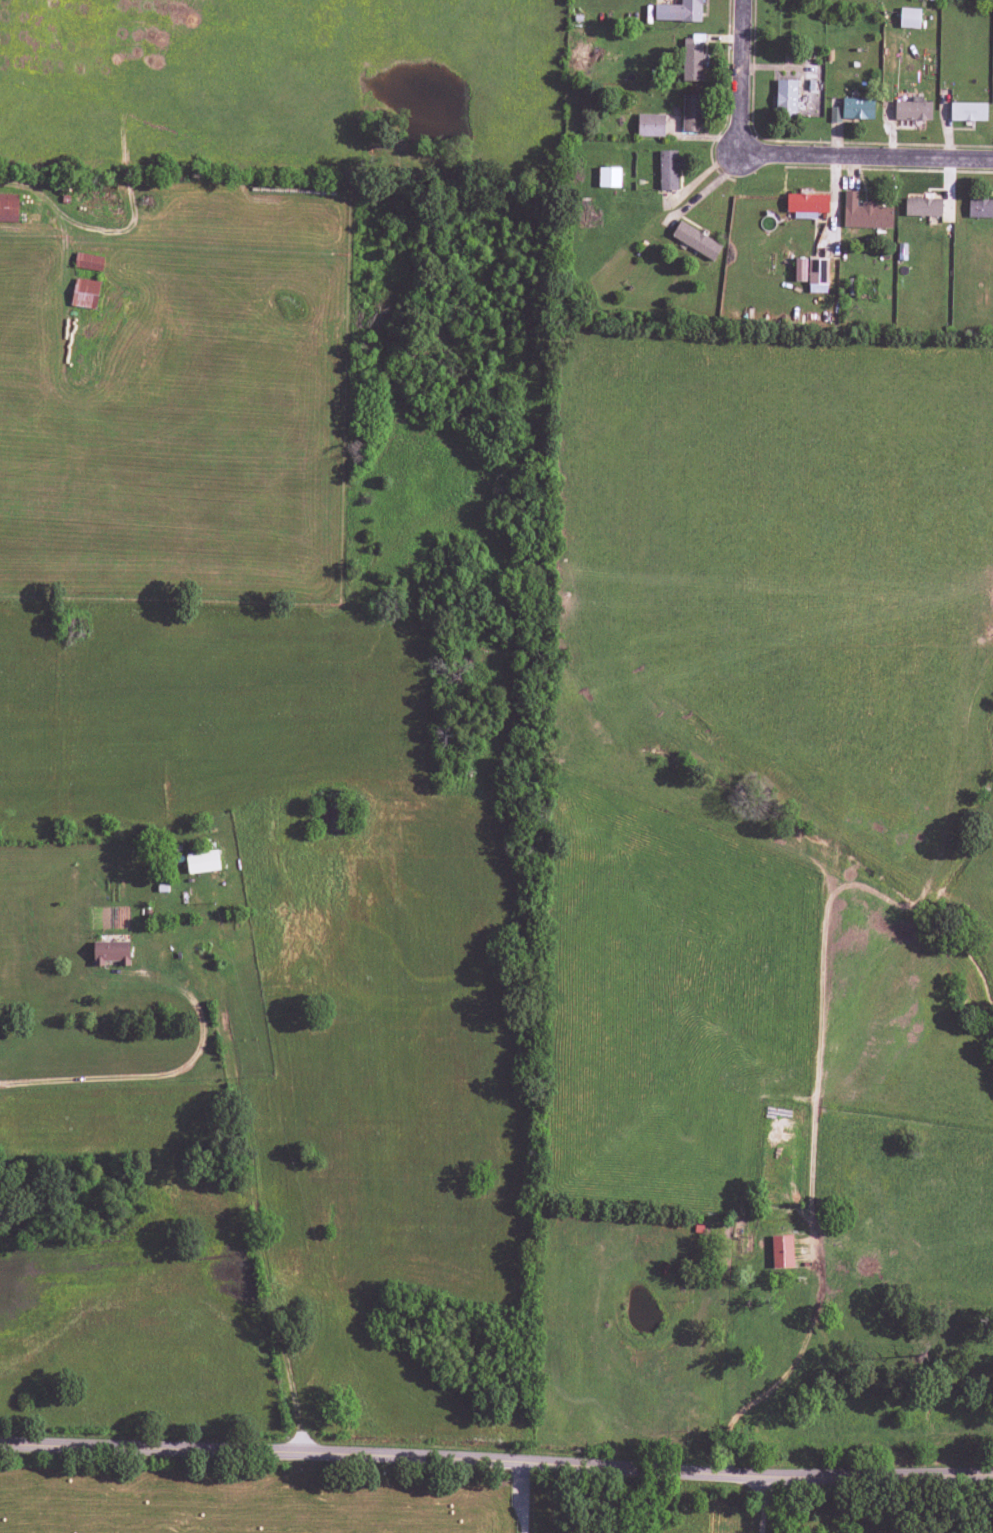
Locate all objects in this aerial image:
building: (679, 11)
building: (909, 18)
building: (691, 59)
building: (785, 98)
building: (853, 110)
building: (912, 110)
building: (968, 111)
building: (691, 113)
building: (650, 125)
road: (794, 150)
building: (668, 170)
building: (609, 177)
building: (806, 205)
building: (922, 206)
building: (8, 208)
building: (980, 208)
building: (864, 213)
building: (695, 241)
building: (812, 274)
building: (84, 293)
building: (202, 862)
building: (111, 953)
road: (172, 1071)
road: (248, 1191)
building: (781, 1251)
road: (496, 1460)

